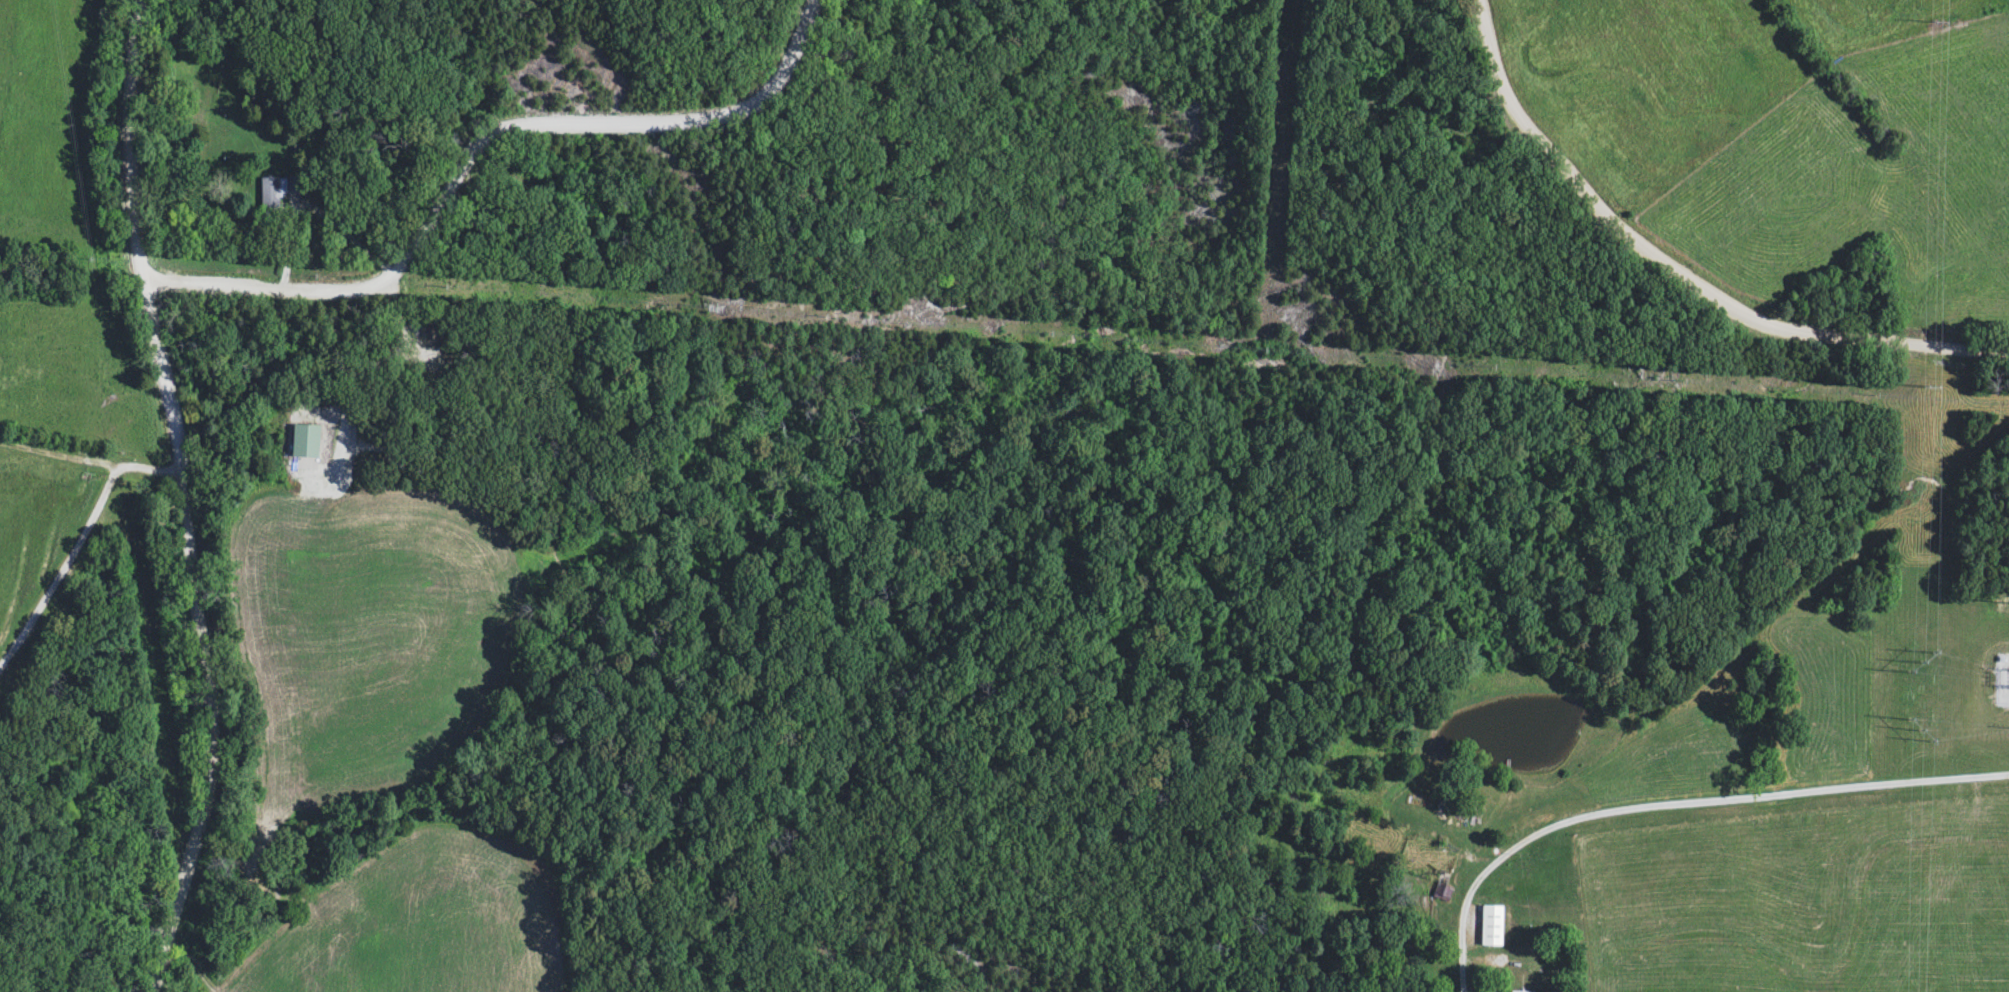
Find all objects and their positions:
power tower: (1935, 23)
road: (479, 144)
building: (277, 190)
road: (1677, 273)
power tower: (1926, 385)
building: (304, 442)
road: (93, 469)
road: (190, 496)
road: (65, 582)
power tower: (1919, 661)
power substation: (2002, 678)
power tower: (1916, 729)
road: (1678, 804)
building: (1442, 893)
building: (1491, 926)

